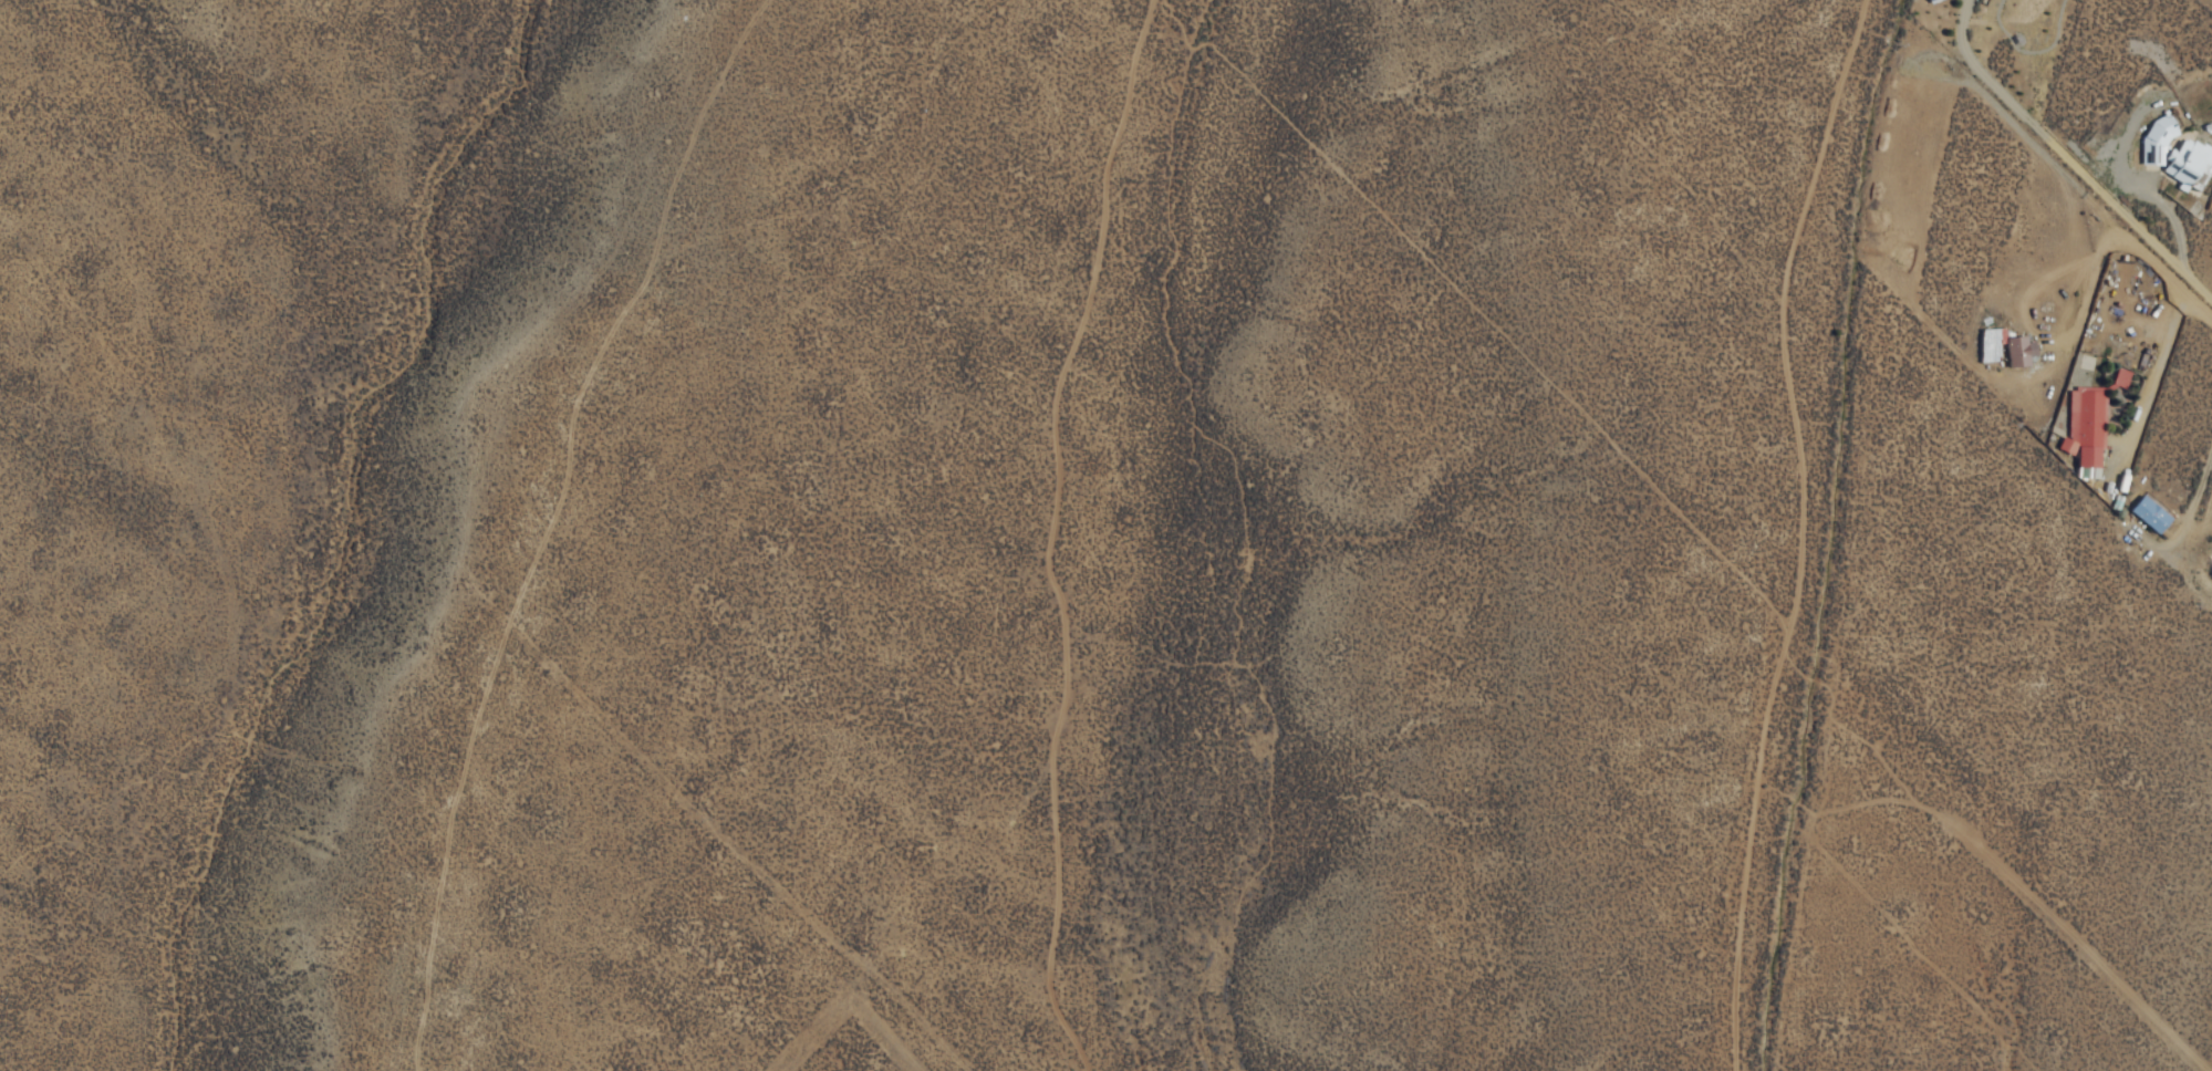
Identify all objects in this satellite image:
building: (1928, 1)
building: (2174, 154)
road: (2087, 171)
building: (2016, 351)
building: (2081, 431)
building: (2147, 514)
building: (2210, 561)

